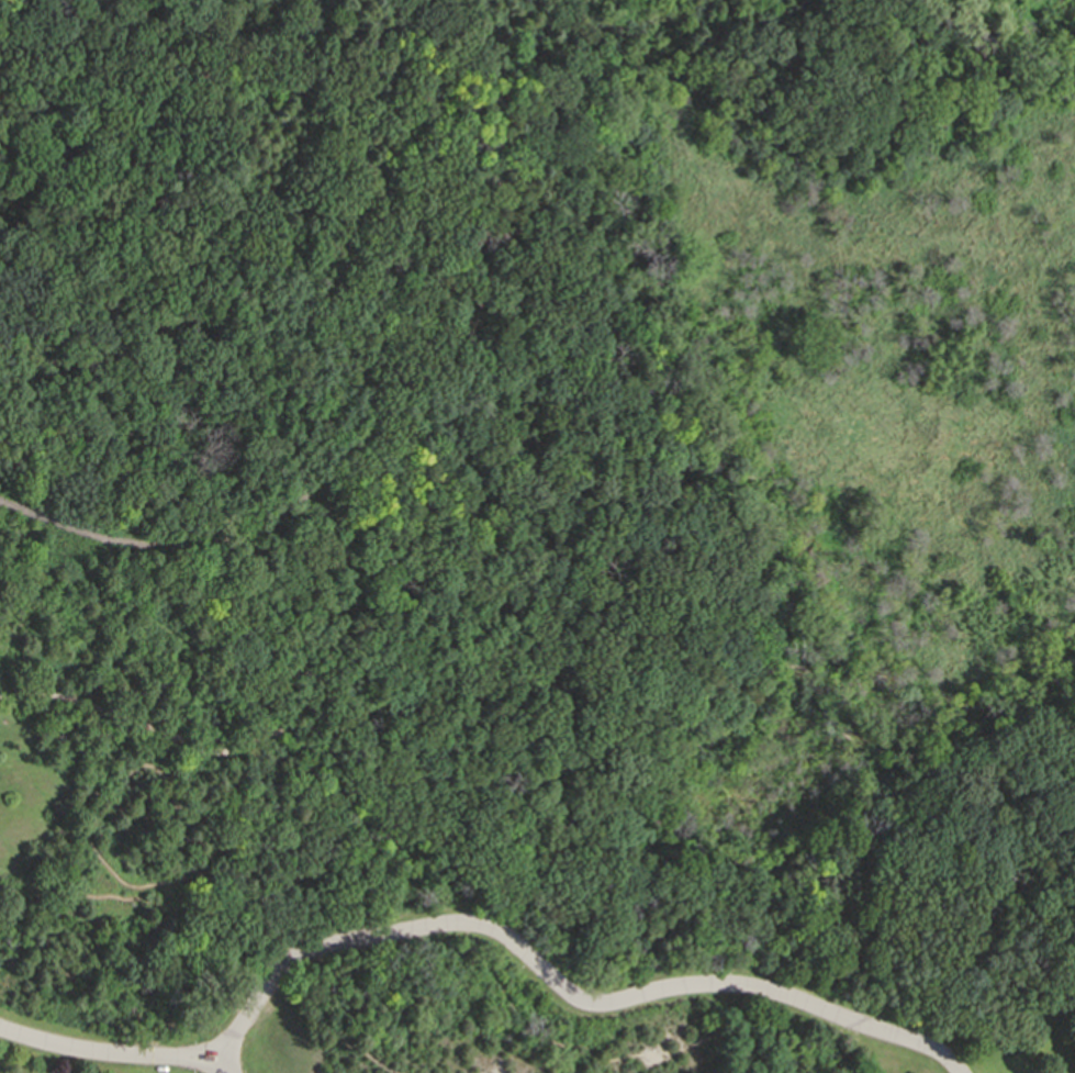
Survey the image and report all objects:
road: (462, 304)
road: (43, 313)
road: (367, 361)
road: (154, 545)
park: (537, 558)
road: (562, 638)
road: (406, 689)
road: (1060, 868)
road: (474, 924)
road: (365, 993)
road: (225, 1063)

